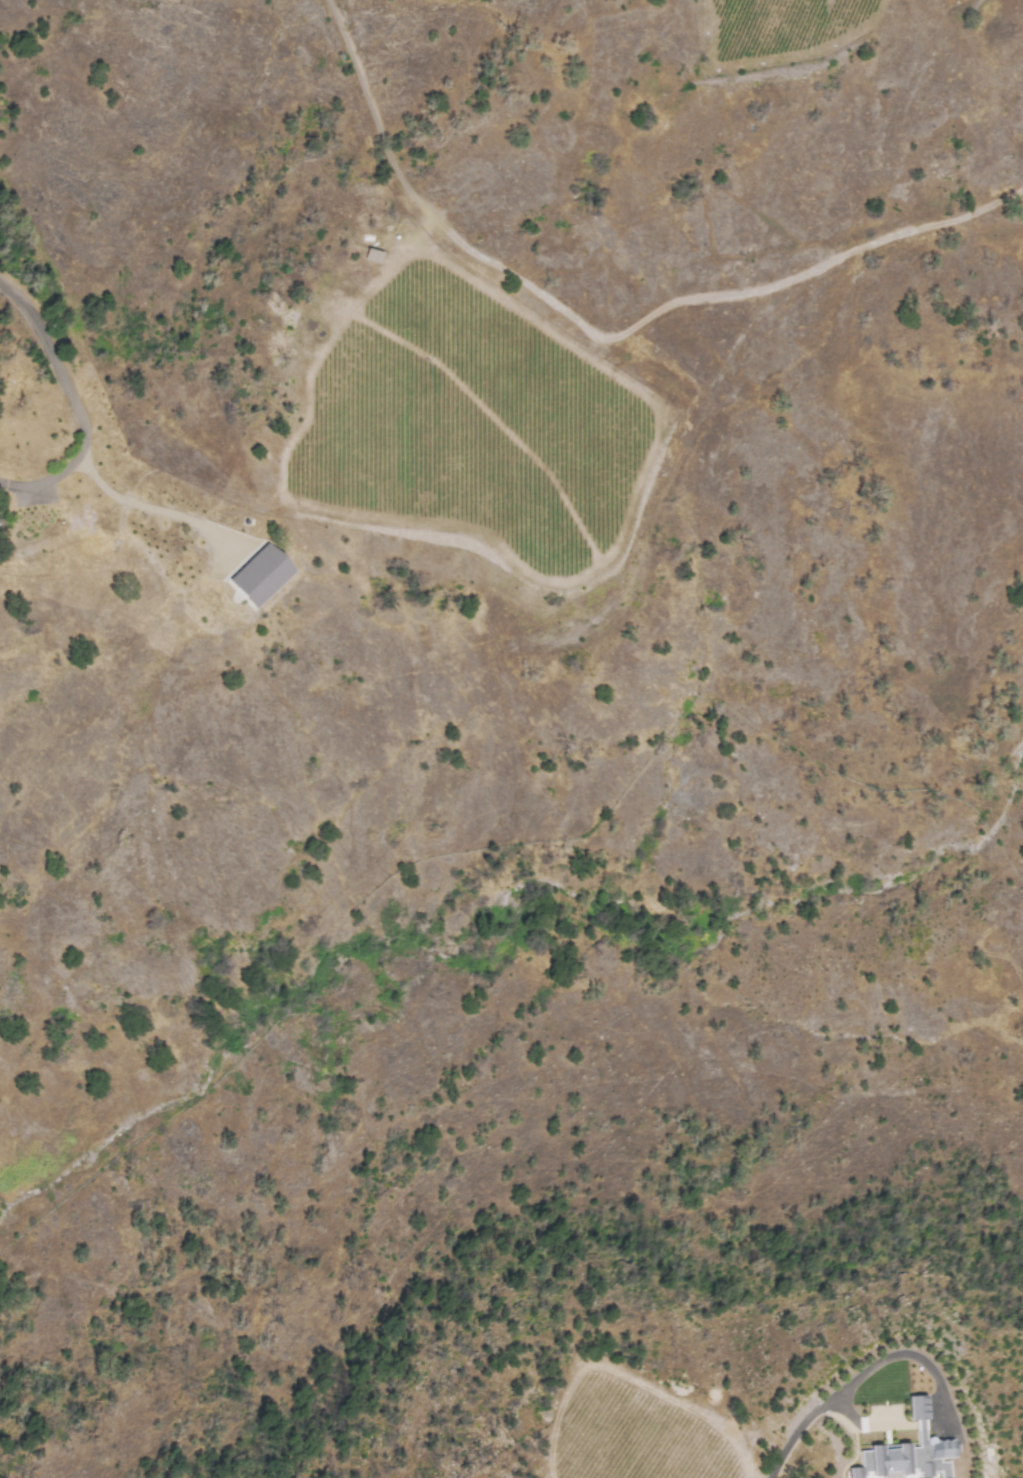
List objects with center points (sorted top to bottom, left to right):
road: (846, 254)
building: (371, 255)
road: (512, 271)
road: (75, 404)
road: (150, 508)
building: (259, 575)
building: (916, 1407)
road: (813, 1410)
building: (906, 1458)

